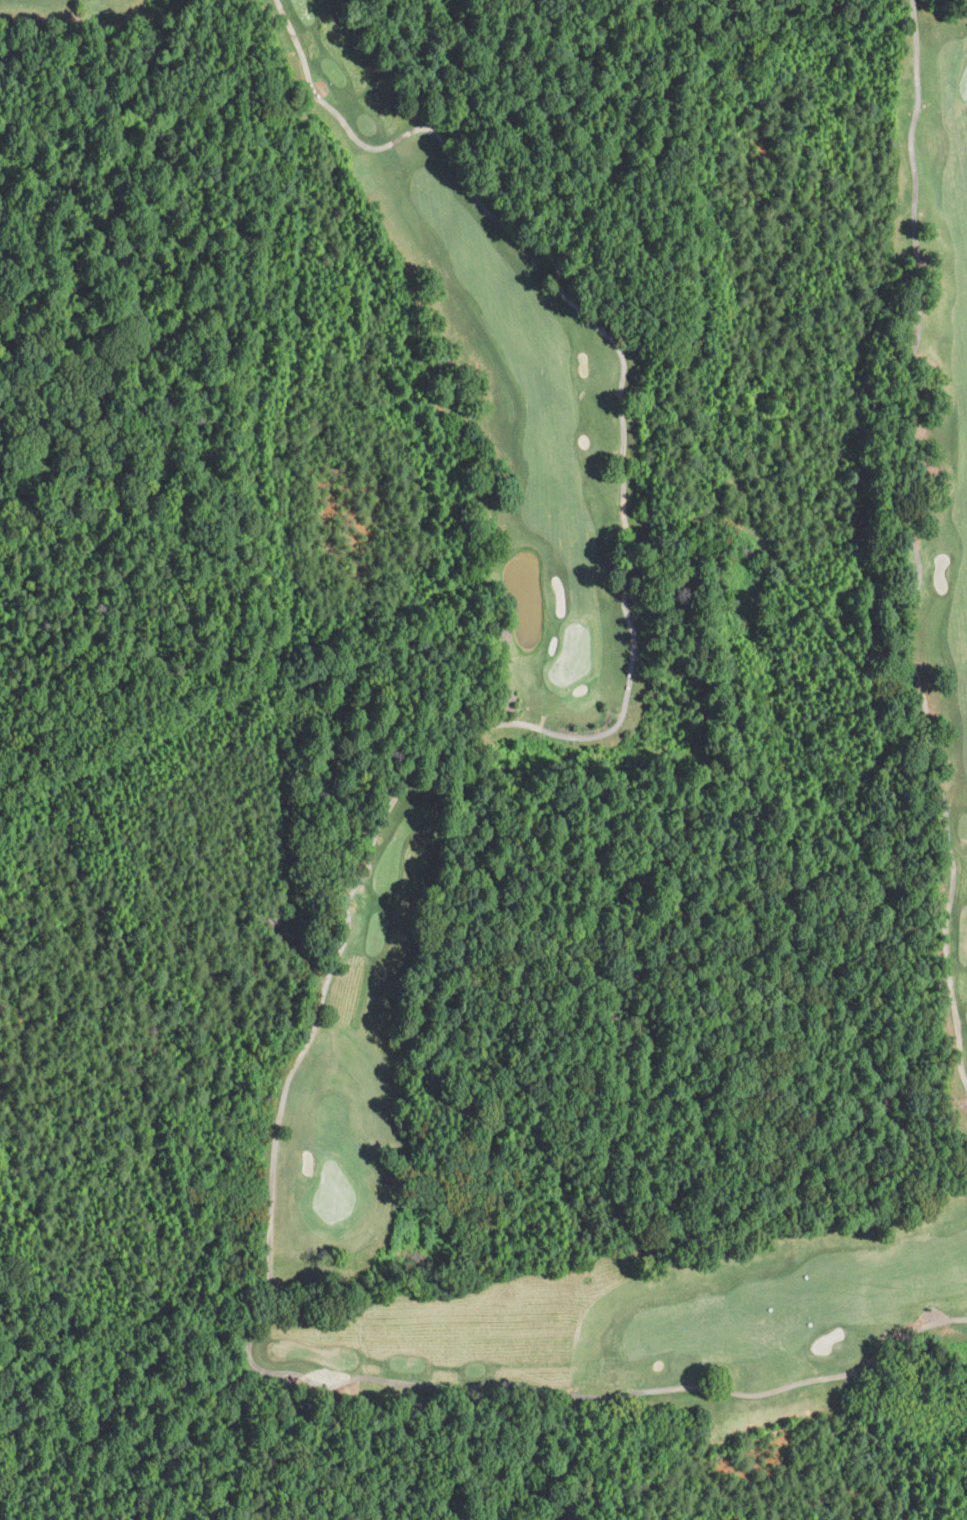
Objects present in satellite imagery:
park: (549, 714)

